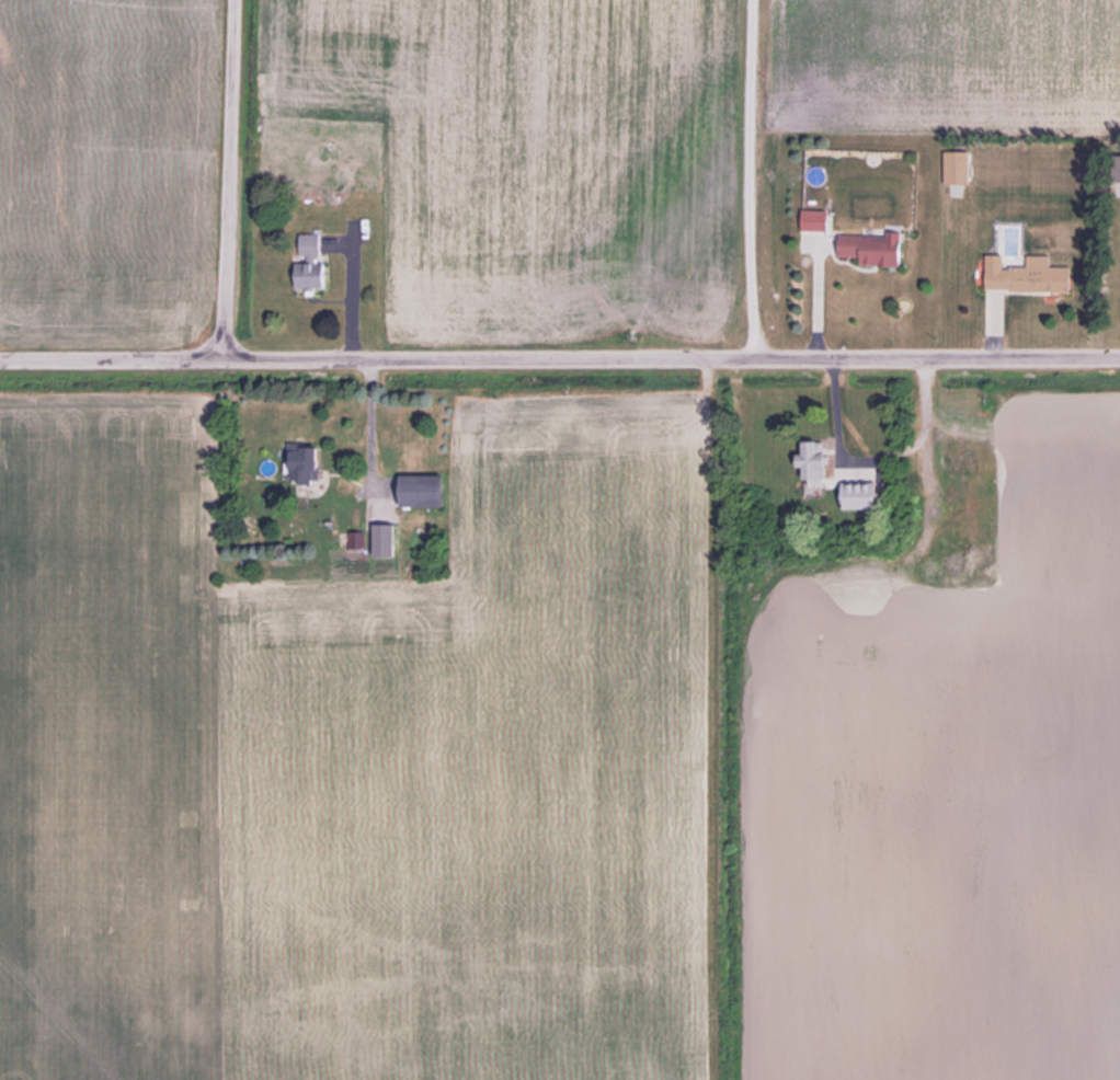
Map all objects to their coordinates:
road: (747, 175)
road: (226, 176)
building: (873, 249)
building: (311, 264)
building: (1027, 275)
road: (560, 352)
road: (370, 418)
building: (306, 461)
building: (816, 461)
building: (965, 461)
building: (424, 490)
building: (973, 559)

